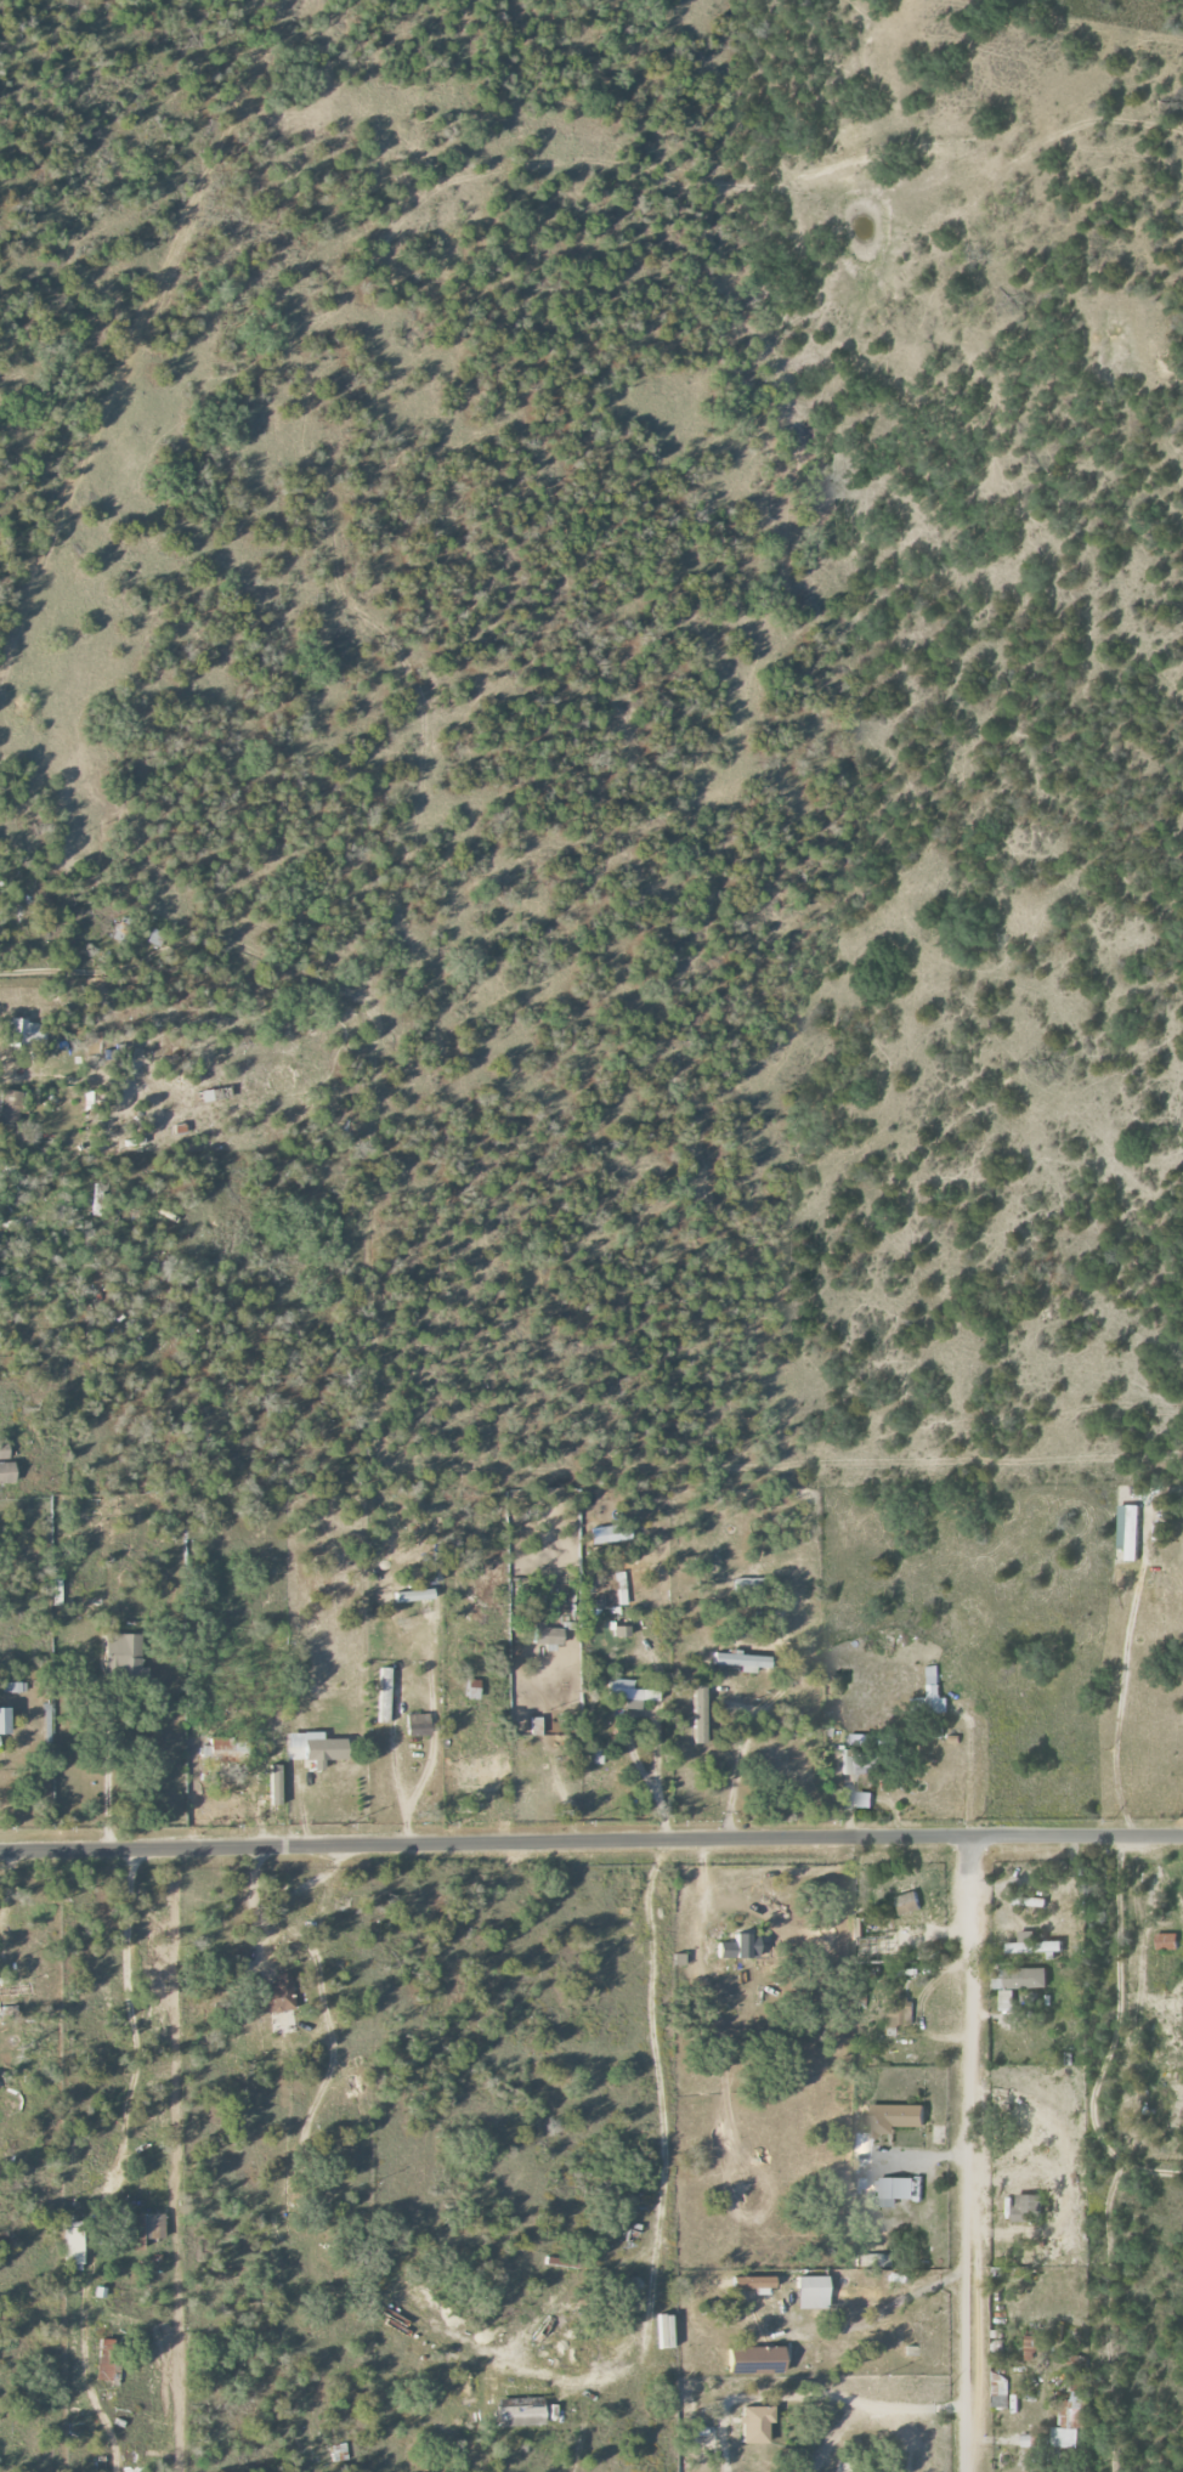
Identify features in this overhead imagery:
building: (155, 938)
building: (22, 1030)
building: (9, 1107)
building: (4, 1450)
building: (7, 1473)
building: (1131, 1531)
building: (617, 1532)
building: (56, 1590)
building: (413, 1596)
building: (547, 1635)
building: (123, 1653)
building: (743, 1662)
road: (1121, 1673)
building: (935, 1690)
building: (630, 1693)
building: (384, 1695)
building: (698, 1714)
building: (5, 1721)
building: (418, 1725)
road: (394, 1729)
road: (741, 1733)
road: (432, 1736)
building: (315, 1748)
building: (228, 1749)
road: (968, 1769)
building: (274, 1784)
building: (865, 1799)
road: (591, 1843)
building: (911, 1902)
road: (253, 1911)
building: (857, 1929)
building: (1167, 1941)
building: (1036, 1945)
building: (740, 1947)
building: (1019, 1982)
building: (277, 1995)
building: (900, 2012)
road: (130, 2015)
road: (1110, 2037)
building: (899, 2117)
road: (973, 2154)
building: (895, 2190)
building: (1029, 2208)
building: (147, 2228)
building: (74, 2244)
road: (653, 2259)
building: (872, 2261)
building: (813, 2292)
building: (666, 2331)
building: (1032, 2348)
building: (106, 2360)
building: (755, 2360)
road: (763, 2393)
road: (923, 2402)
building: (521, 2412)
building: (1063, 2423)
building: (755, 2425)
road: (833, 2431)
building: (701, 2437)
building: (338, 2453)

